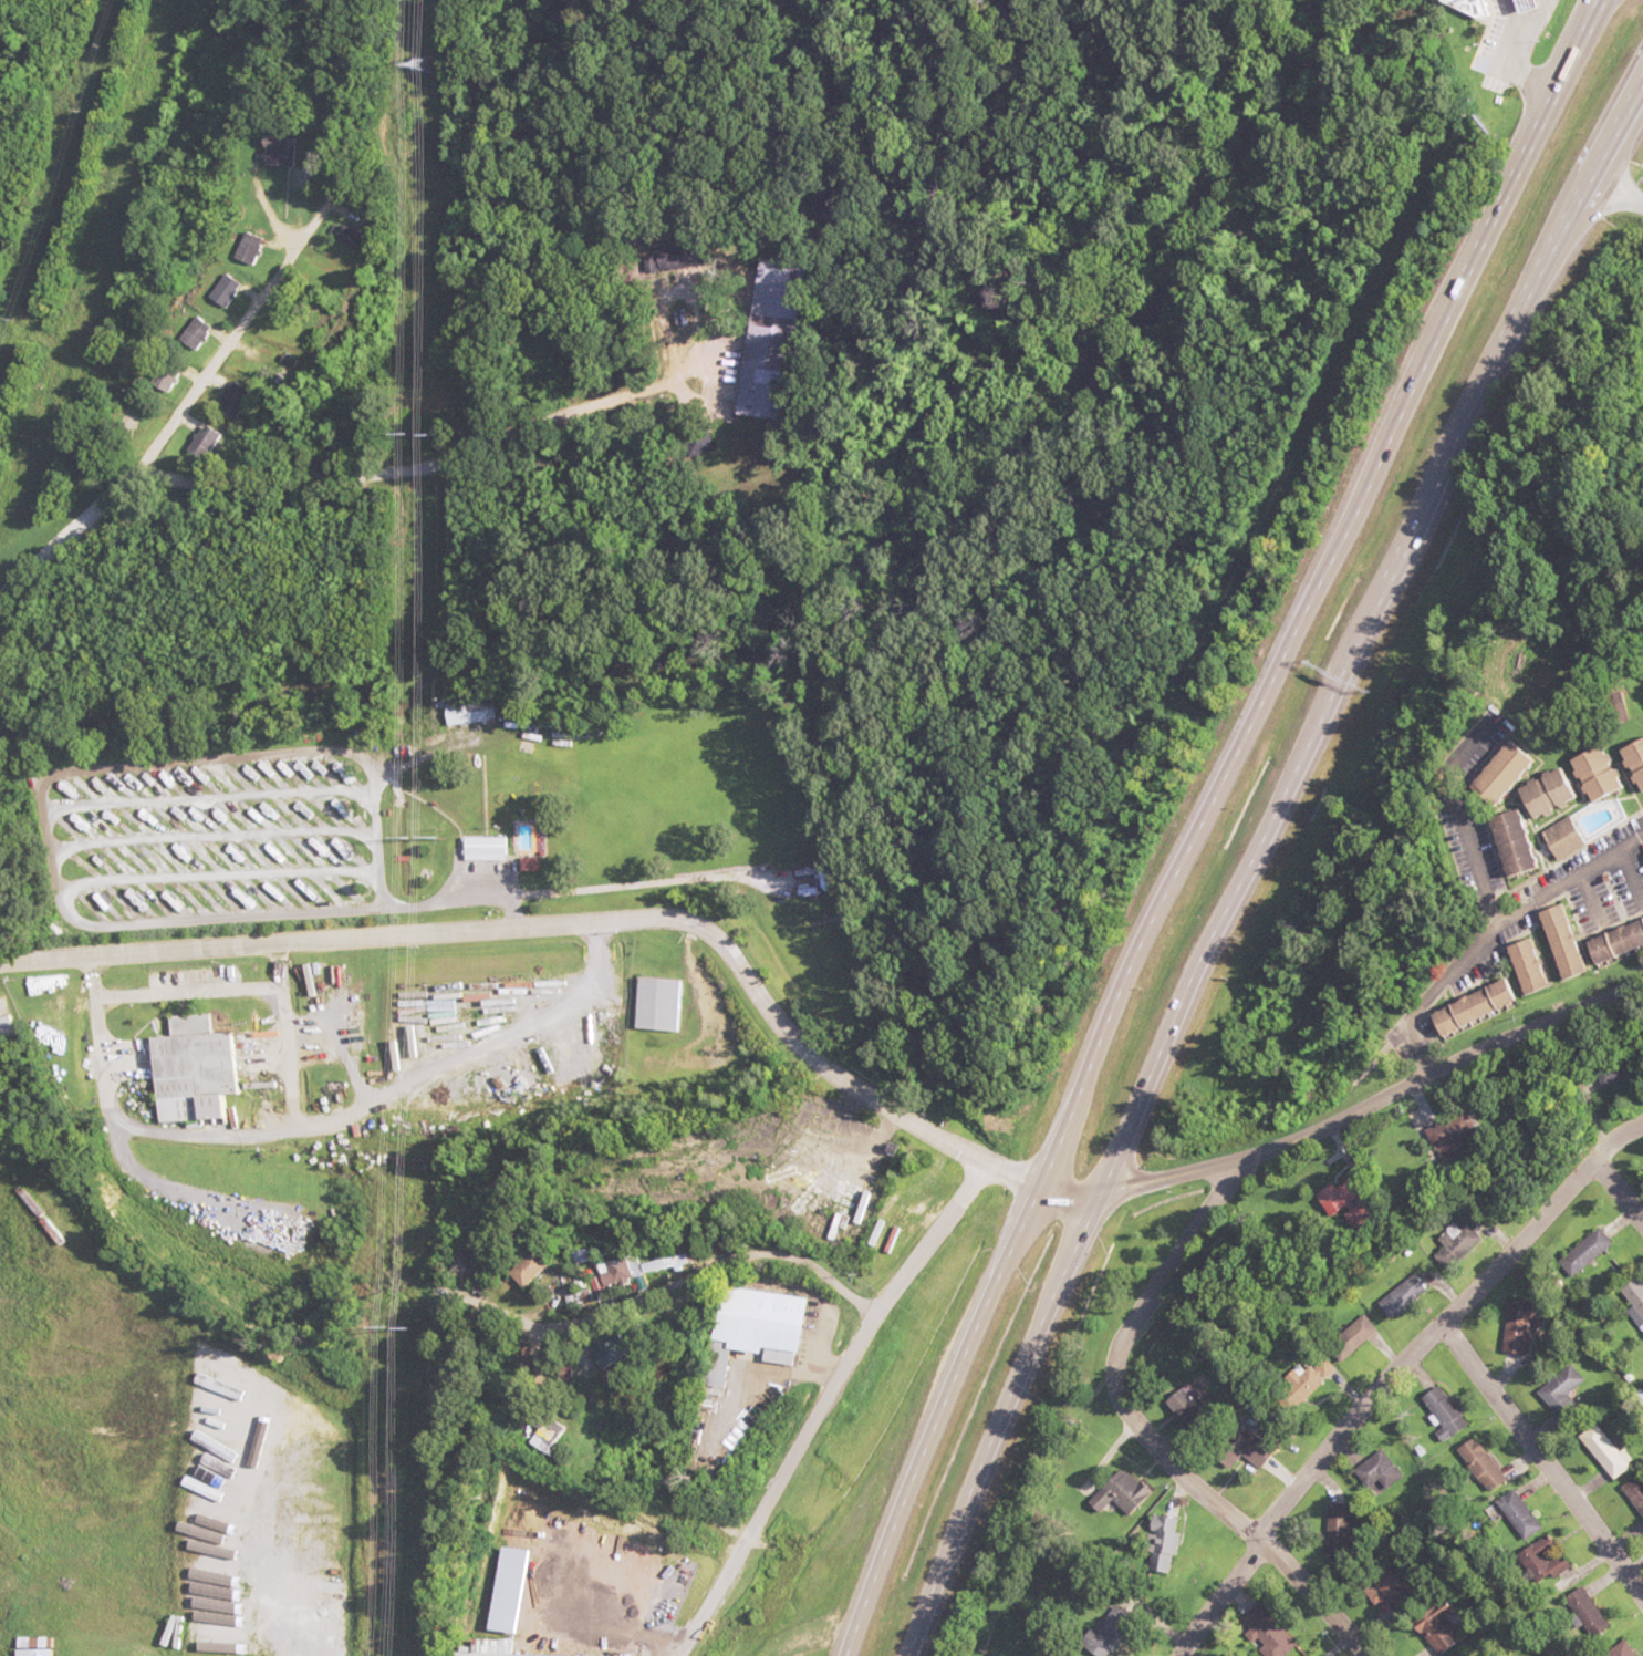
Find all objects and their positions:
power tower: (431, 64)
building: (252, 250)
building: (229, 288)
building: (199, 333)
building: (168, 376)
building: (236, 400)
road: (171, 428)
building: (206, 442)
building: (1613, 708)
building: (476, 713)
building: (1632, 763)
building: (1590, 774)
building: (1496, 775)
building: (1541, 794)
road: (1205, 818)
road: (1458, 818)
power tower: (434, 839)
building: (1558, 840)
building: (1505, 845)
building: (491, 849)
road: (1256, 861)
road: (566, 925)
road: (1491, 932)
building: (1613, 941)
building: (1557, 942)
building: (1522, 966)
building: (658, 1004)
building: (1476, 1006)
building: (8, 1026)
building: (578, 1055)
building: (198, 1070)
building: (1620, 1073)
road: (1345, 1115)
road: (1618, 1137)
building: (1460, 1140)
road: (1619, 1186)
building: (1358, 1203)
building: (1459, 1243)
building: (1592, 1252)
road: (726, 1260)
building: (543, 1270)
building: (631, 1272)
building: (1408, 1295)
building: (1635, 1298)
building: (1526, 1325)
building: (762, 1329)
building: (1359, 1338)
road: (1425, 1344)
building: (1306, 1386)
building: (1564, 1397)
road: (817, 1408)
building: (1198, 1410)
building: (1449, 1411)
building: (559, 1434)
road: (1142, 1434)
building: (1258, 1447)
building: (1606, 1453)
road: (1543, 1462)
building: (1487, 1464)
building: (1382, 1472)
building: (330, 1473)
building: (1635, 1492)
building: (1126, 1493)
building: (1522, 1514)
building: (1345, 1529)
building: (1164, 1542)
building: (1549, 1562)
building: (1394, 1588)
road: (1217, 1596)
building: (1591, 1613)
building: (212, 1627)
building: (1443, 1635)
building: (1275, 1638)
building: (1626, 1647)
building: (493, 1649)
building: (1463, 1654)

